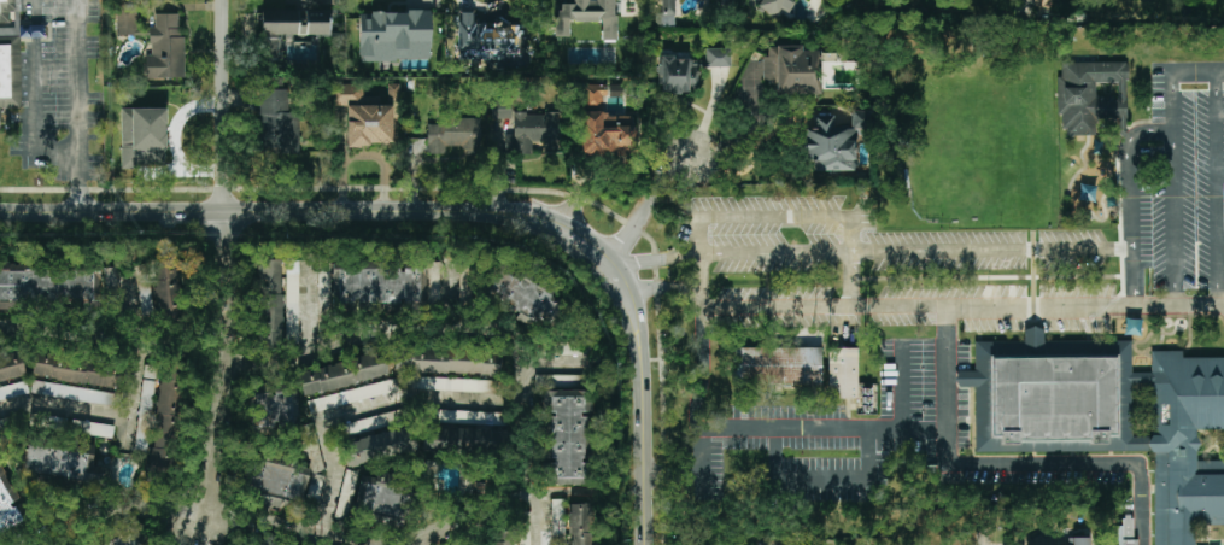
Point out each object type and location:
building: (725, 0)
building: (777, 6)
building: (664, 12)
building: (587, 16)
building: (128, 20)
building: (291, 30)
building: (394, 36)
building: (485, 39)
building: (165, 48)
building: (12, 52)
building: (689, 70)
building: (797, 70)
road: (1173, 77)
building: (1090, 94)
building: (593, 95)
road: (1217, 104)
building: (500, 112)
building: (362, 116)
building: (279, 122)
building: (531, 131)
road: (745, 131)
building: (607, 133)
building: (455, 136)
building: (144, 137)
building: (833, 142)
road: (60, 156)
road: (1129, 175)
road: (78, 182)
road: (645, 205)
road: (455, 213)
road: (1175, 219)
road: (1217, 221)
road: (892, 252)
road: (223, 259)
road: (998, 279)
road: (851, 280)
building: (377, 281)
building: (433, 281)
building: (49, 285)
building: (169, 288)
road: (663, 289)
road: (701, 292)
building: (145, 297)
building: (526, 297)
building: (292, 298)
building: (269, 304)
road: (1085, 306)
road: (57, 340)
road: (353, 342)
building: (438, 361)
building: (777, 365)
building: (11, 367)
road: (701, 368)
building: (76, 369)
building: (842, 373)
building: (342, 374)
building: (456, 385)
road: (945, 386)
road: (902, 387)
building: (13, 391)
building: (74, 393)
building: (352, 395)
building: (862, 400)
road: (528, 402)
building: (274, 404)
road: (95, 412)
road: (361, 412)
building: (469, 416)
building: (1112, 417)
building: (168, 420)
road: (789, 429)
road: (124, 430)
building: (566, 436)
building: (462, 440)
building: (376, 445)
road: (1082, 464)
building: (59, 465)
road: (821, 476)
road: (672, 477)
building: (275, 482)
building: (380, 499)
building: (7, 505)
road: (482, 505)
road: (123, 523)
road: (281, 525)
building: (580, 525)
road: (185, 531)
building: (1126, 532)
road: (990, 537)
building: (499, 538)
building: (128, 539)
building: (1079, 540)
building: (262, 544)
road: (393, 544)

